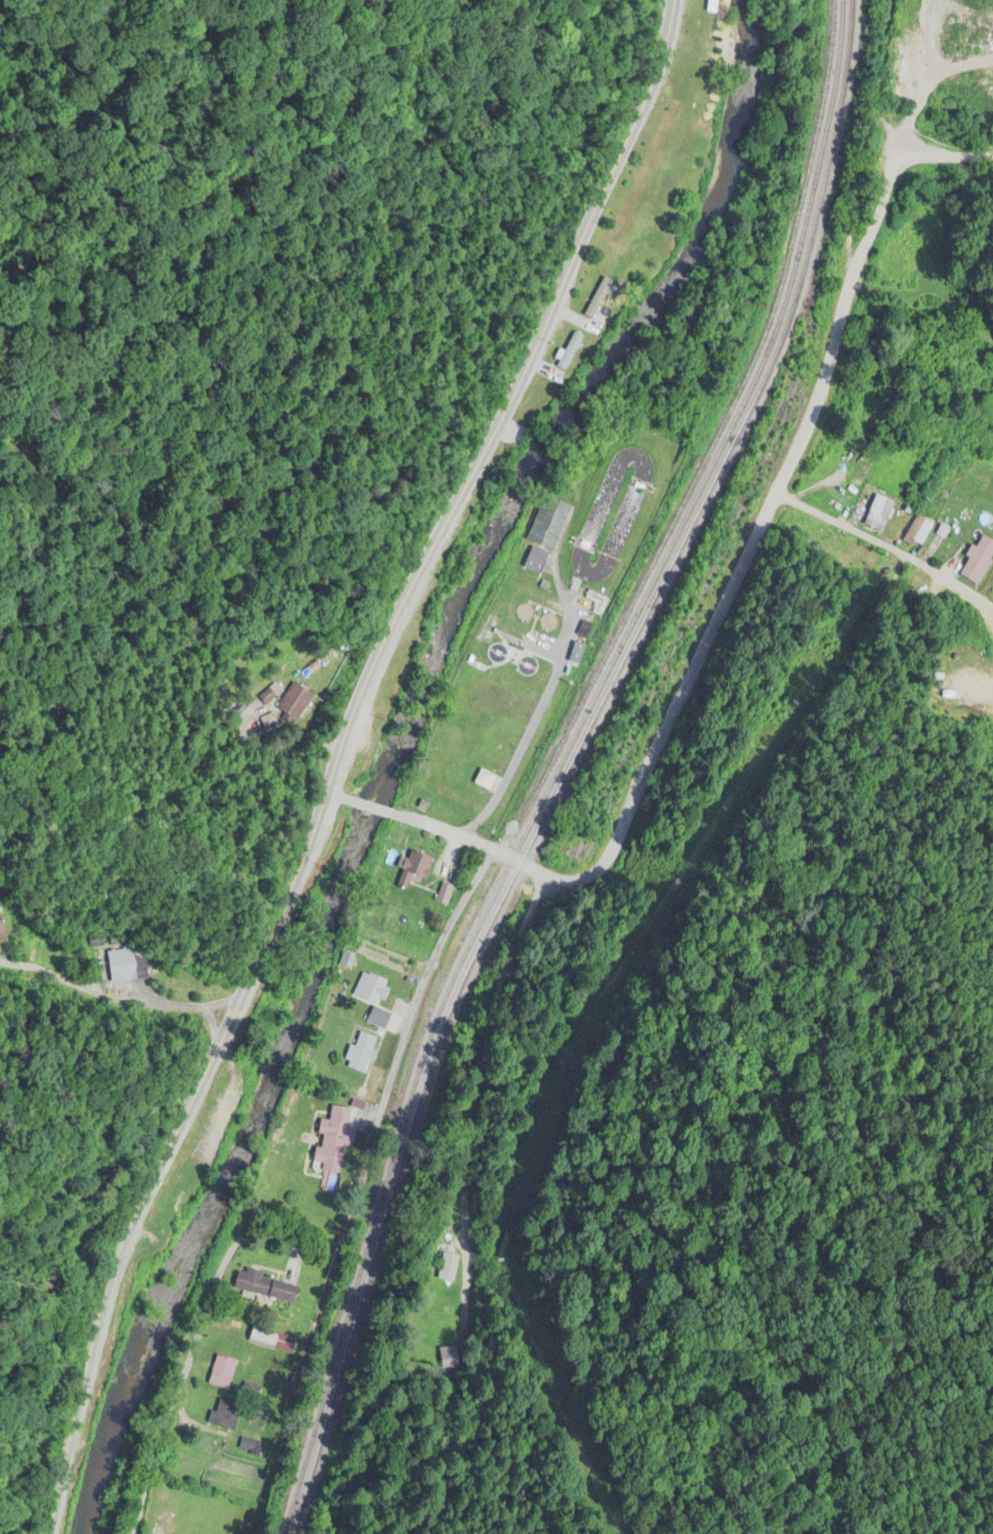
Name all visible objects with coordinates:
road: (852, 283)
building: (880, 513)
building: (549, 523)
building: (919, 528)
road: (887, 552)
building: (978, 557)
building: (268, 694)
building: (296, 700)
road: (536, 705)
river: (402, 754)
road: (345, 762)
railway: (562, 764)
road: (640, 775)
road: (342, 800)
road: (374, 810)
building: (415, 867)
building: (465, 867)
building: (444, 895)
building: (2, 929)
building: (351, 963)
building: (124, 964)
building: (370, 989)
building: (378, 1017)
road: (488, 1046)
building: (360, 1051)
building: (334, 1140)
road: (341, 1237)
building: (447, 1268)
building: (264, 1284)
building: (446, 1329)
building: (223, 1373)
building: (225, 1415)
building: (250, 1447)

